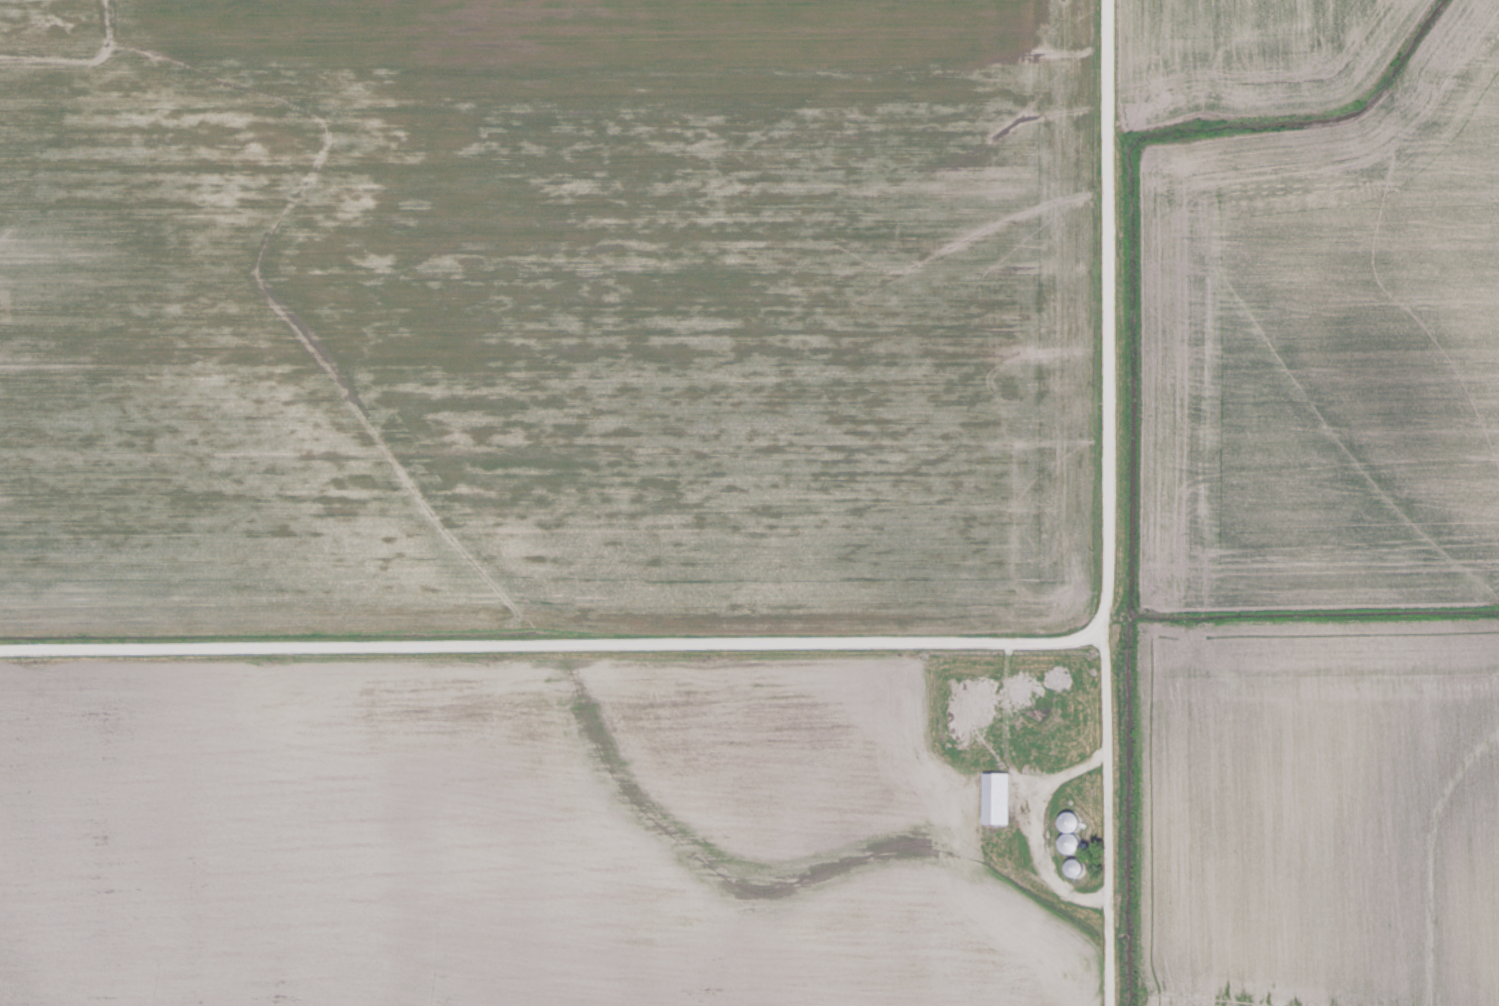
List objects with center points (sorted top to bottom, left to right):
road: (1059, 505)
road: (521, 611)
building: (979, 711)
building: (999, 799)
building: (1072, 832)
building: (1077, 868)

